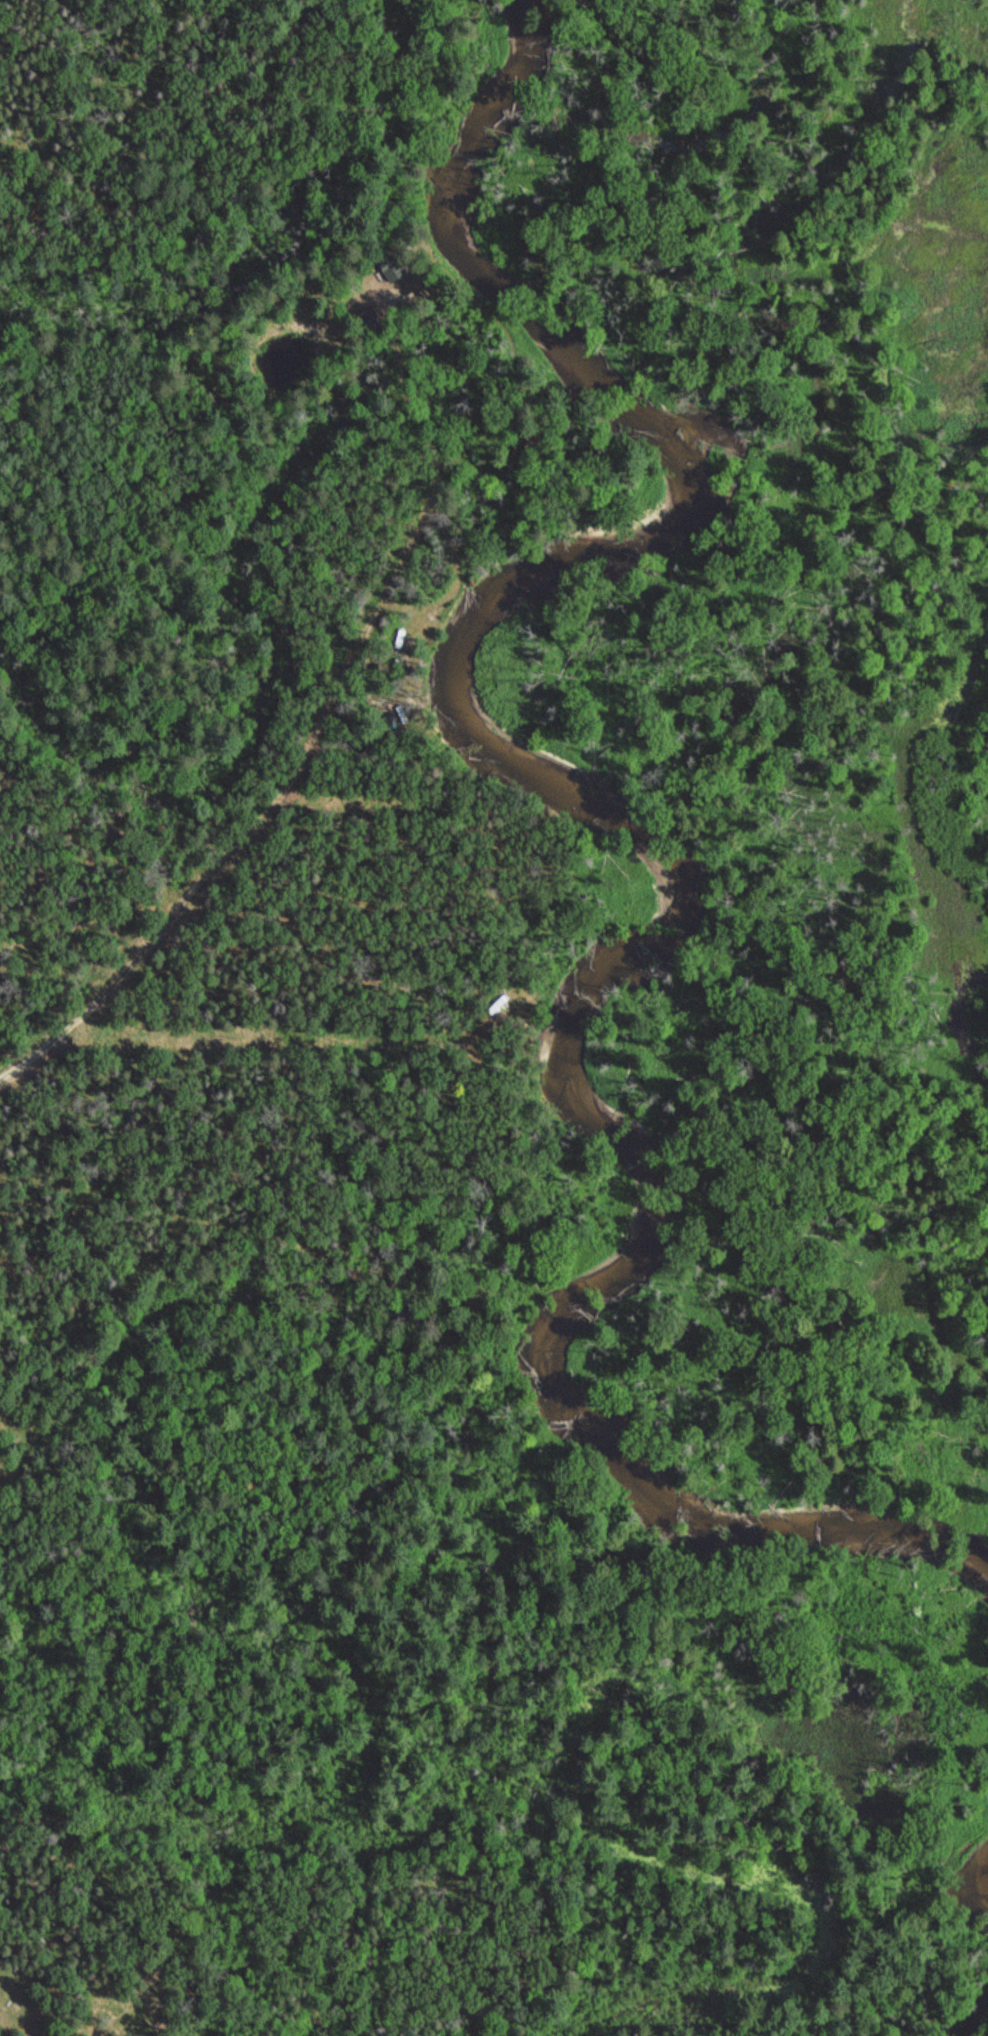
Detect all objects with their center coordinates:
building: (392, 264)
road: (400, 563)
river: (648, 848)
road: (219, 857)
river: (977, 1877)

